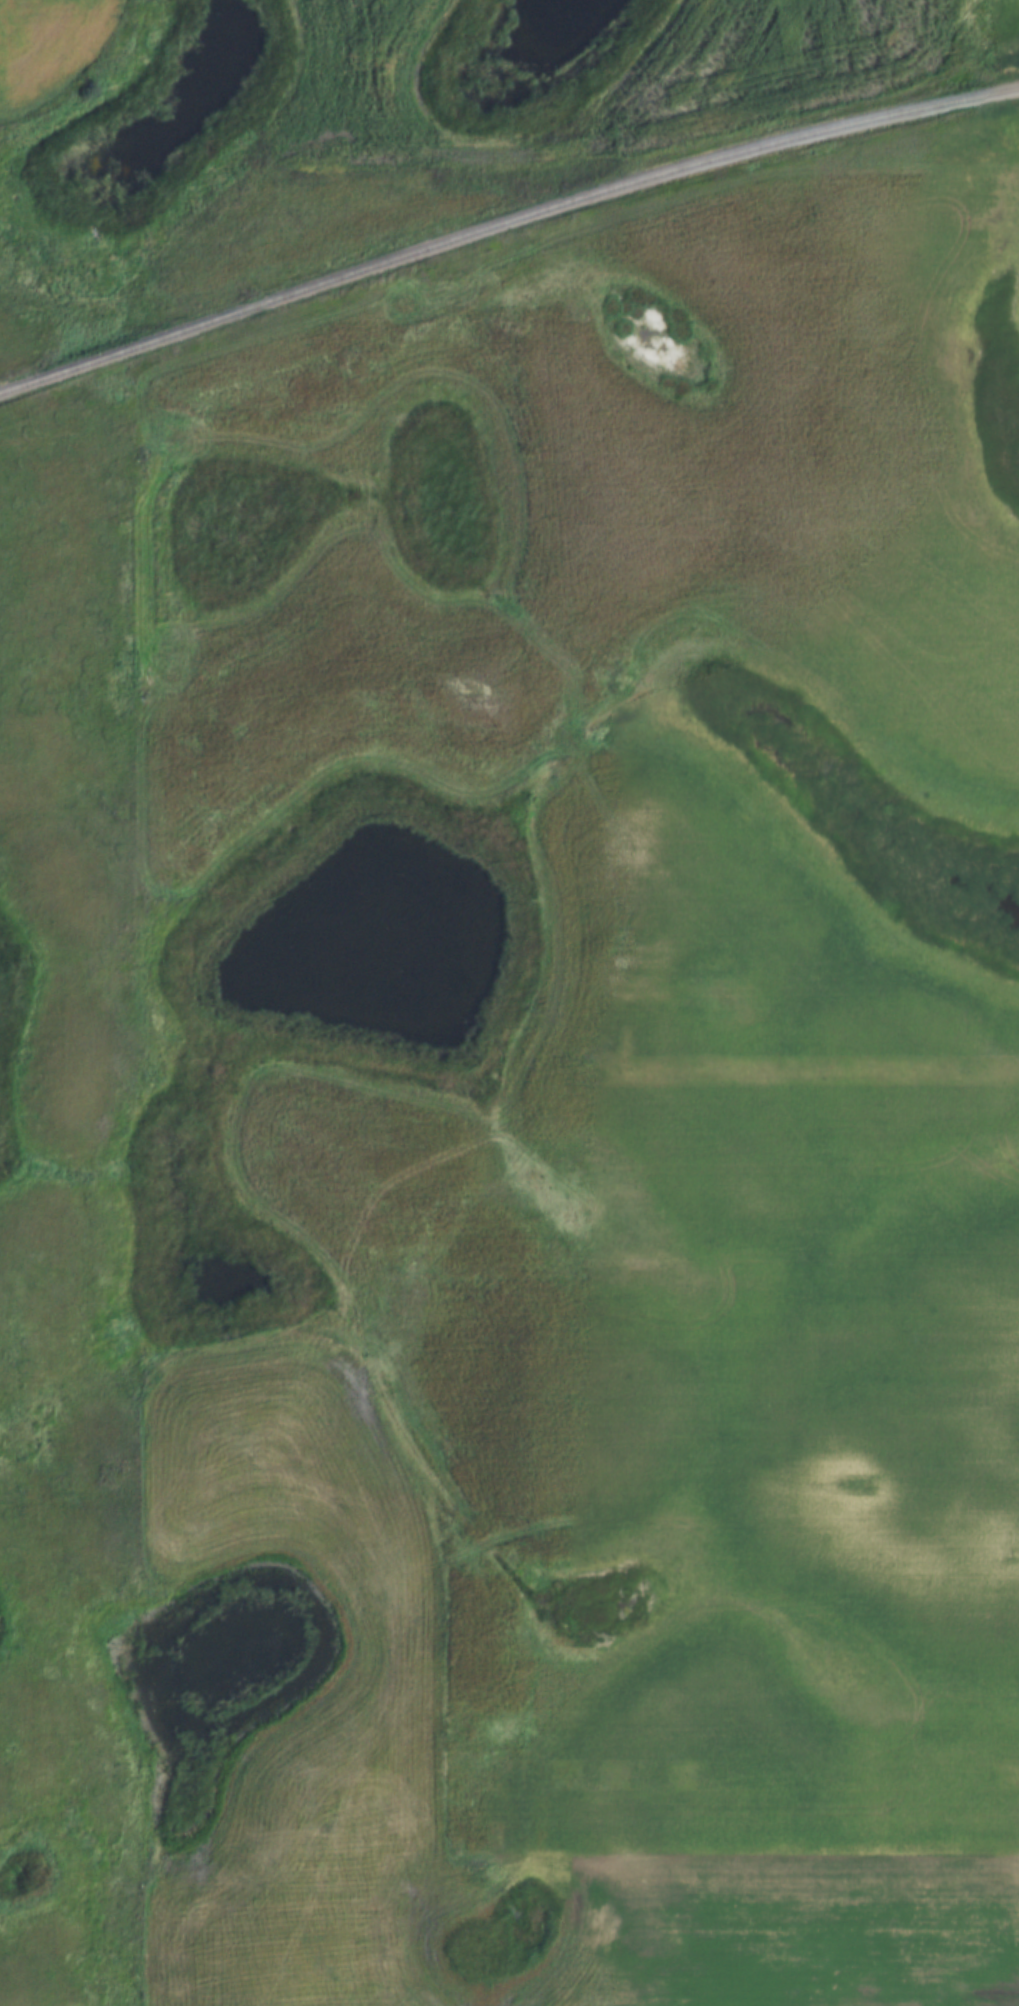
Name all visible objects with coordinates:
railway: (504, 223)
road: (113, 1218)

